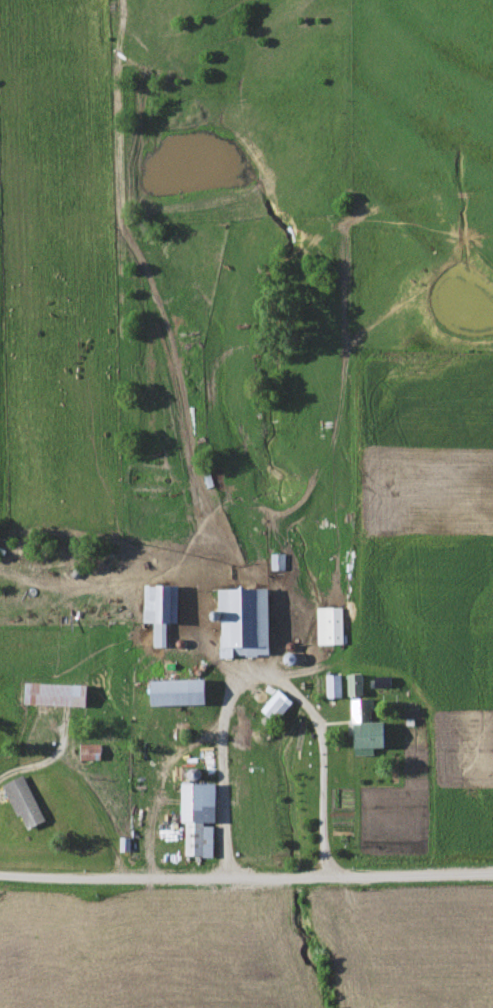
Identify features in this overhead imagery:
building: (275, 562)
building: (153, 615)
building: (243, 621)
building: (353, 685)
building: (331, 687)
building: (176, 693)
building: (53, 696)
building: (276, 710)
building: (366, 733)
building: (22, 804)
building: (195, 836)
road: (246, 877)

